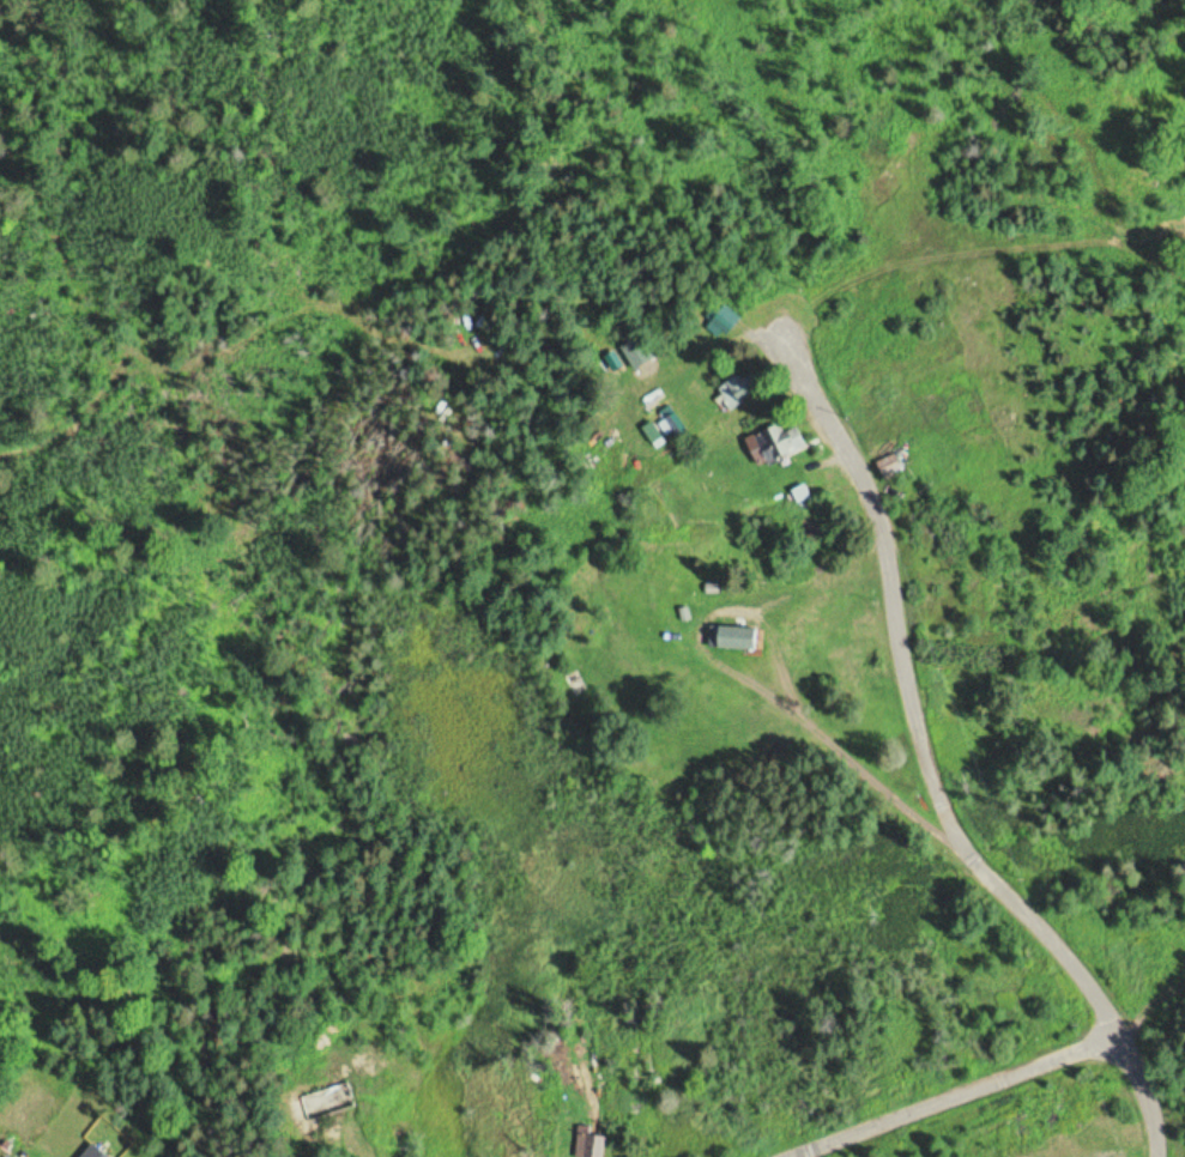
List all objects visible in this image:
building: (636, 350)
building: (740, 389)
building: (672, 422)
building: (778, 441)
building: (738, 636)
road: (931, 751)
road: (957, 1096)
building: (326, 1101)
building: (61, 1119)
building: (588, 1141)

